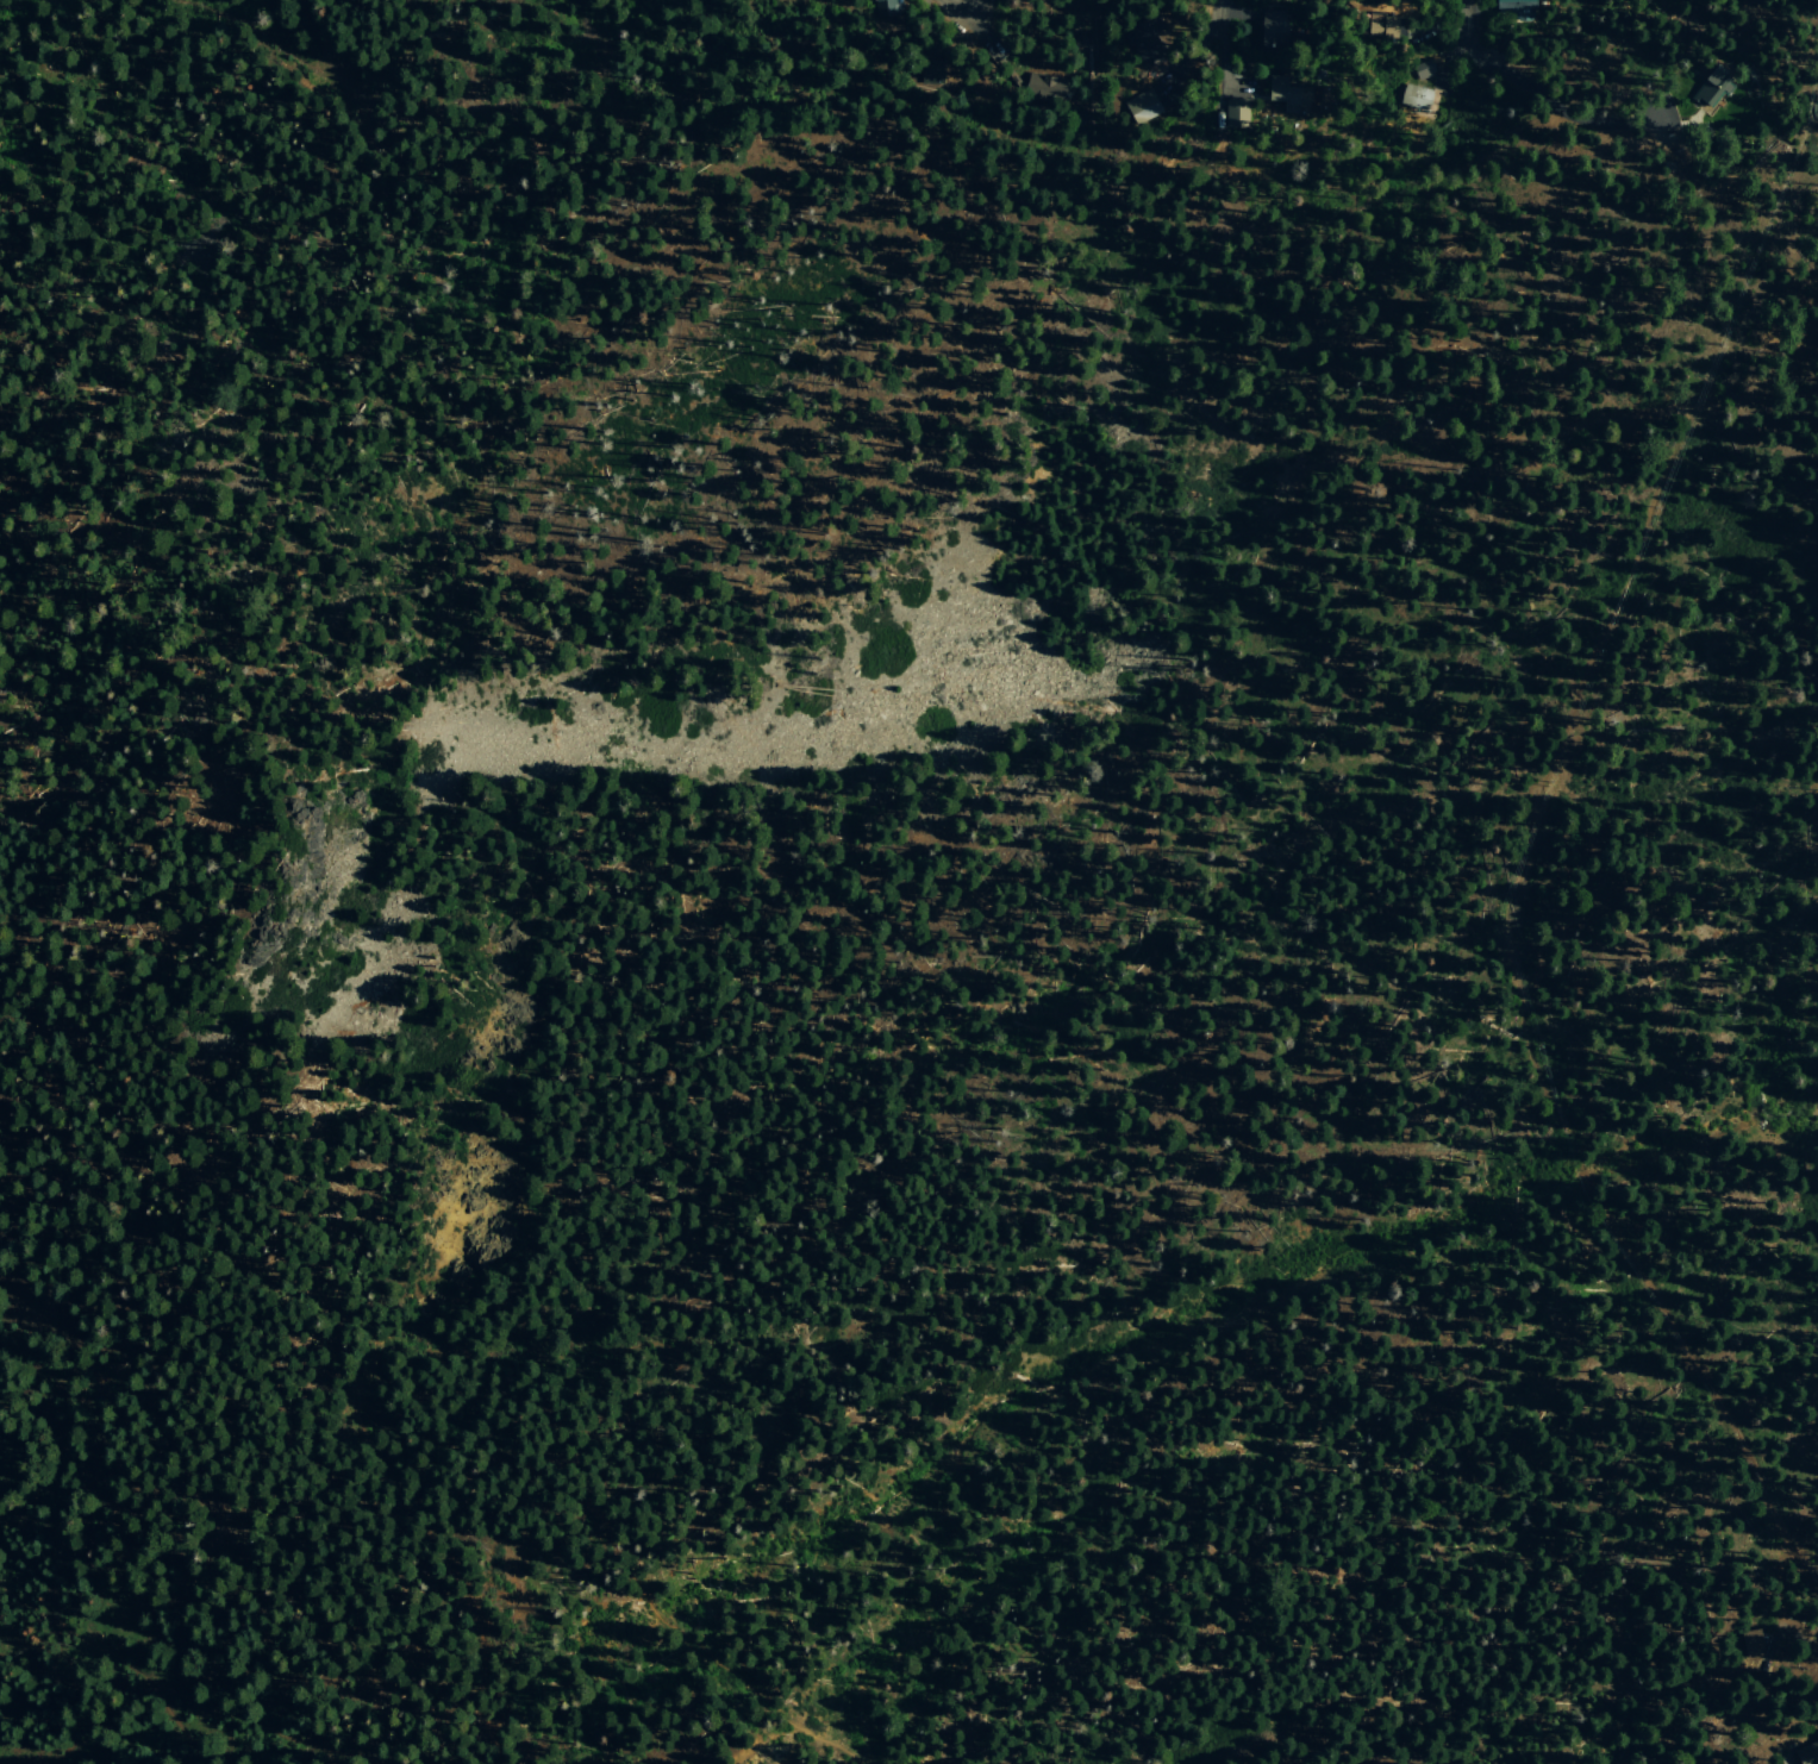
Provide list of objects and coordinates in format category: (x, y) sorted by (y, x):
road: (976, 6)
building: (886, 7)
road: (1218, 7)
building: (1513, 7)
road: (951, 10)
building: (1382, 24)
building: (1270, 25)
road: (1460, 26)
building: (1145, 42)
road: (275, 48)
road: (587, 63)
building: (931, 69)
building: (1423, 69)
building: (1043, 85)
building: (1712, 87)
building: (1291, 95)
building: (1414, 96)
building: (1143, 107)
building: (1236, 112)
road: (1508, 945)
road: (452, 1443)
road: (74, 1641)
building: (1751, 1643)
road: (165, 1722)
road: (251, 1724)
building: (1817, 1735)
building: (1808, 1753)

